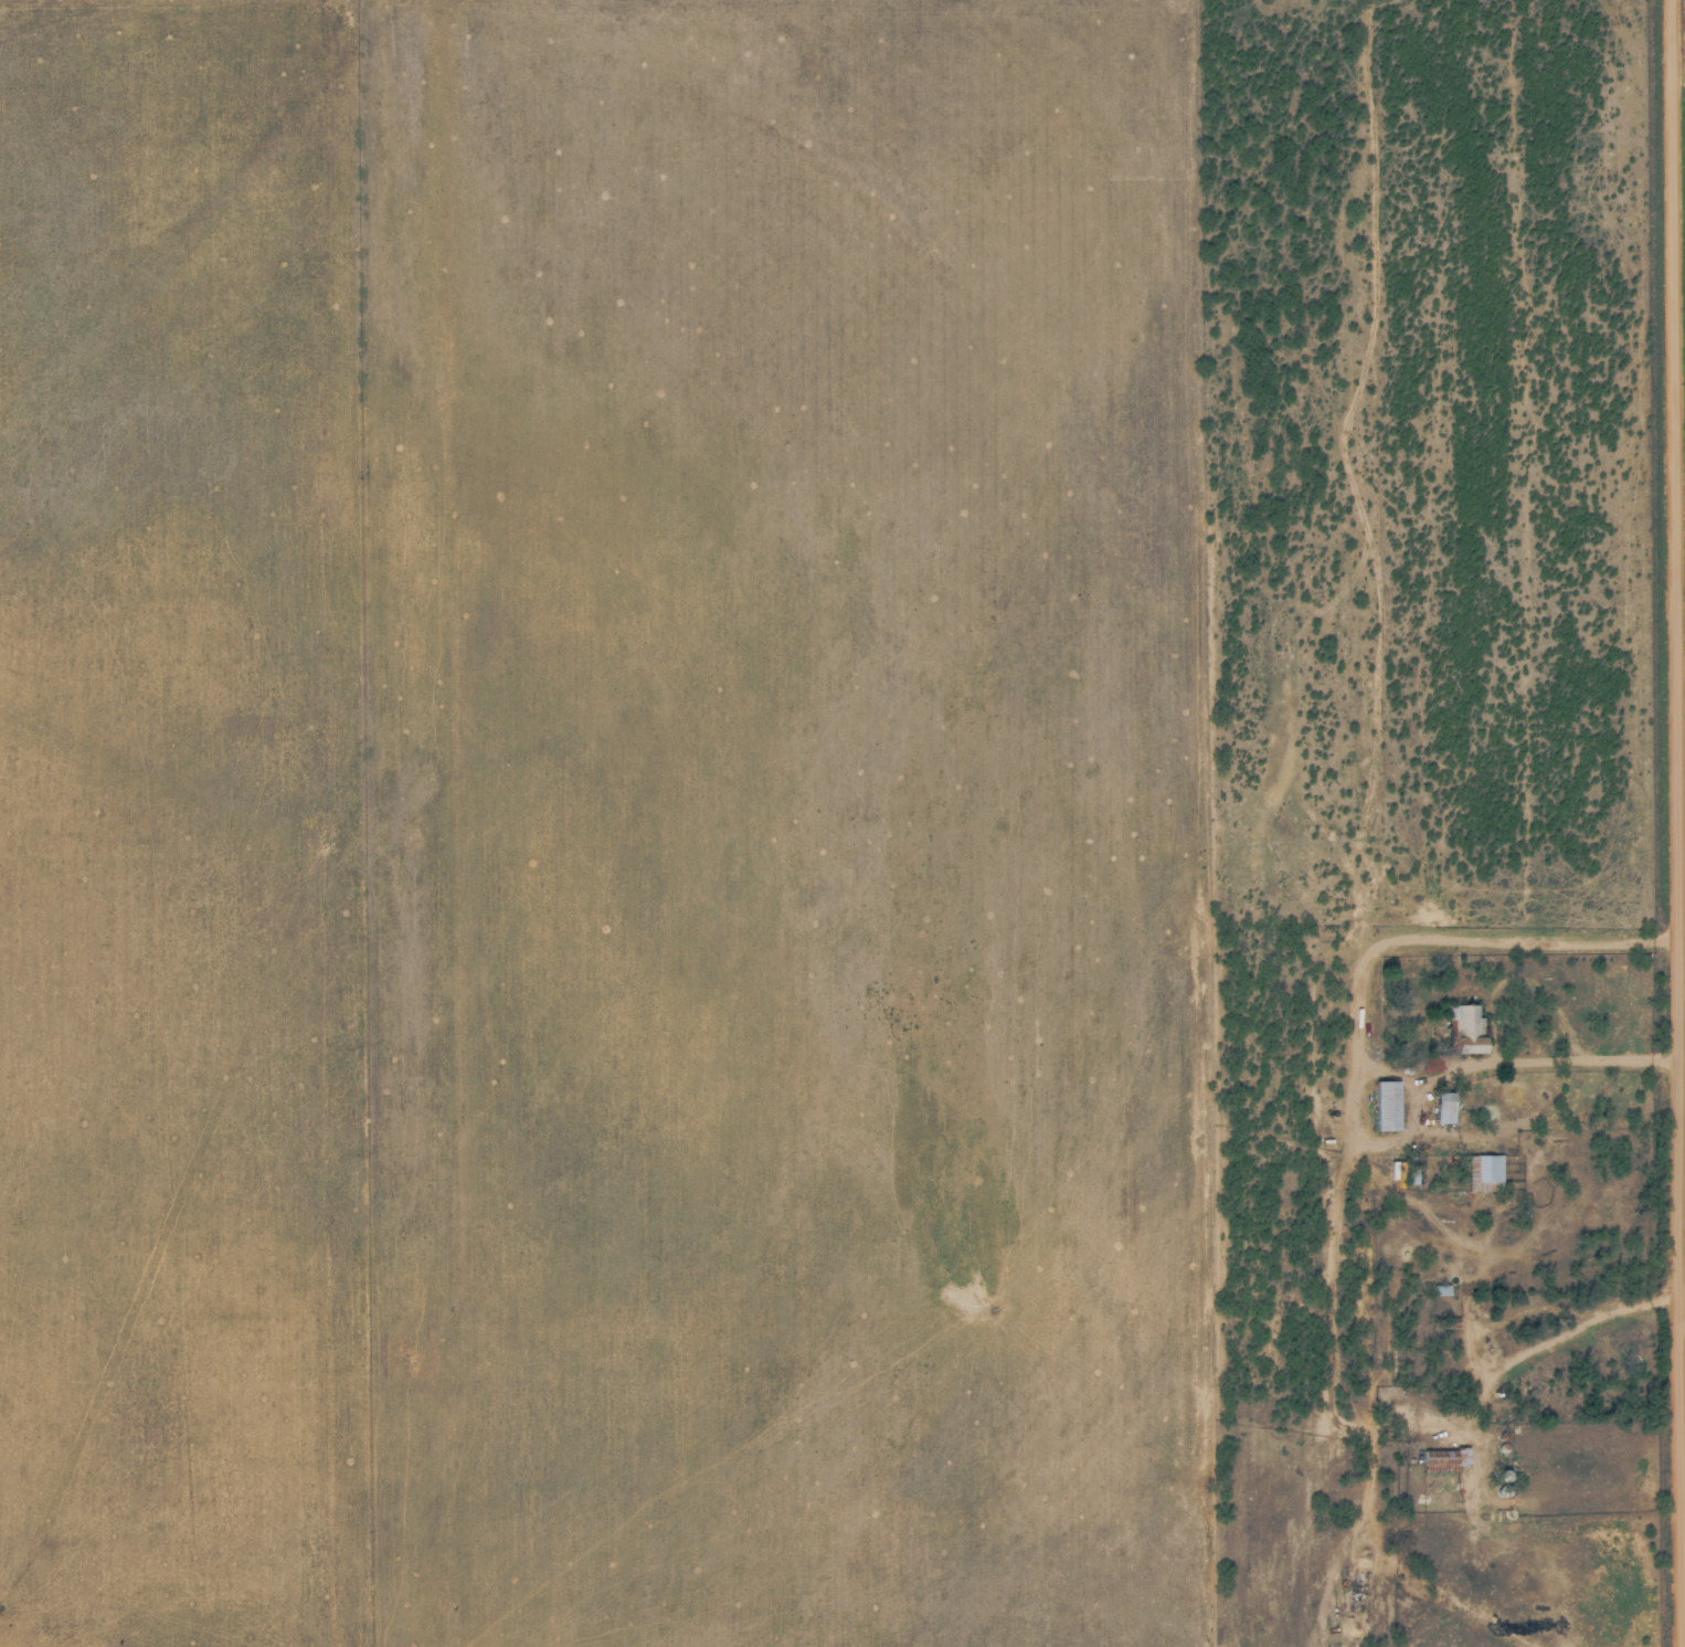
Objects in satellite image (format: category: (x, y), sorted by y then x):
road: (1670, 823)
building: (1465, 1027)
road: (1359, 1073)
building: (1386, 1105)
building: (1444, 1107)
building: (1487, 1173)
building: (1417, 1175)
road: (1683, 1320)
building: (1443, 1460)

